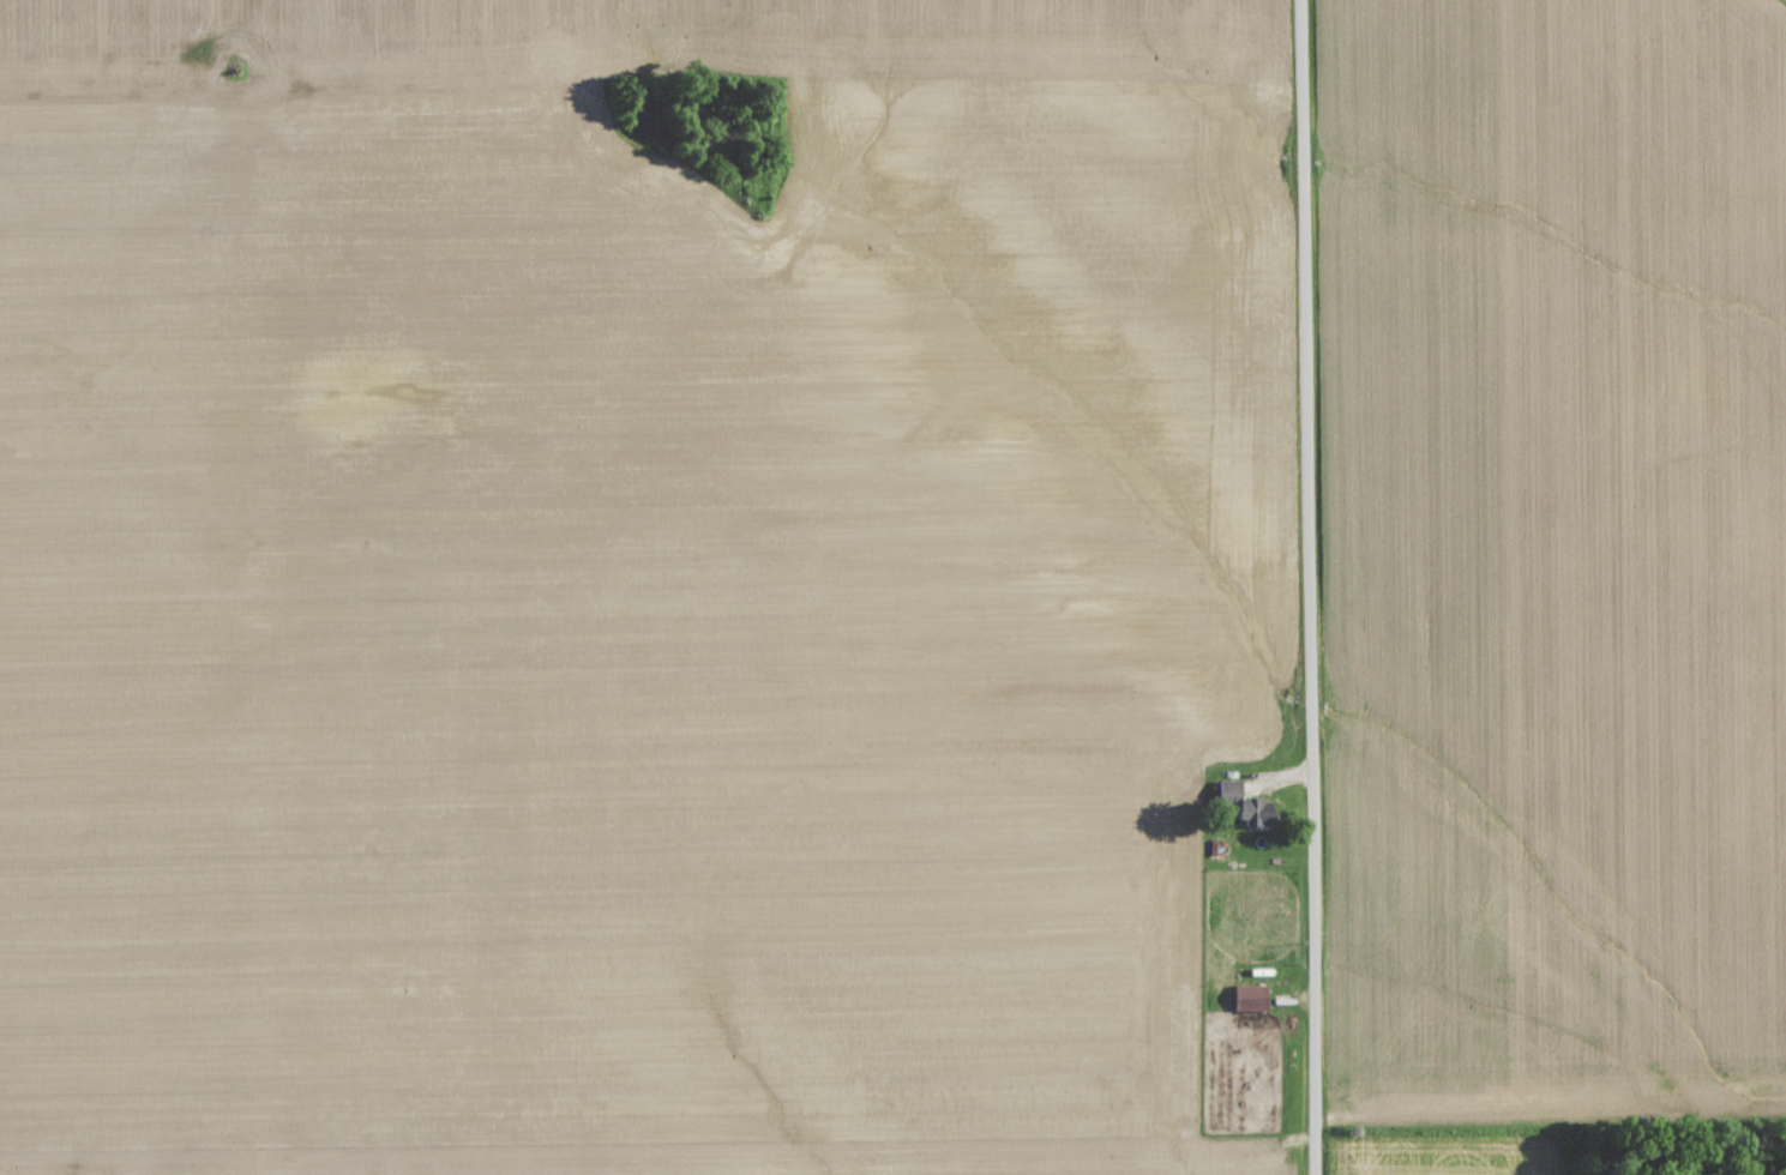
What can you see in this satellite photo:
road: (1294, 587)
building: (1234, 785)
building: (1261, 812)
building: (1253, 1000)

